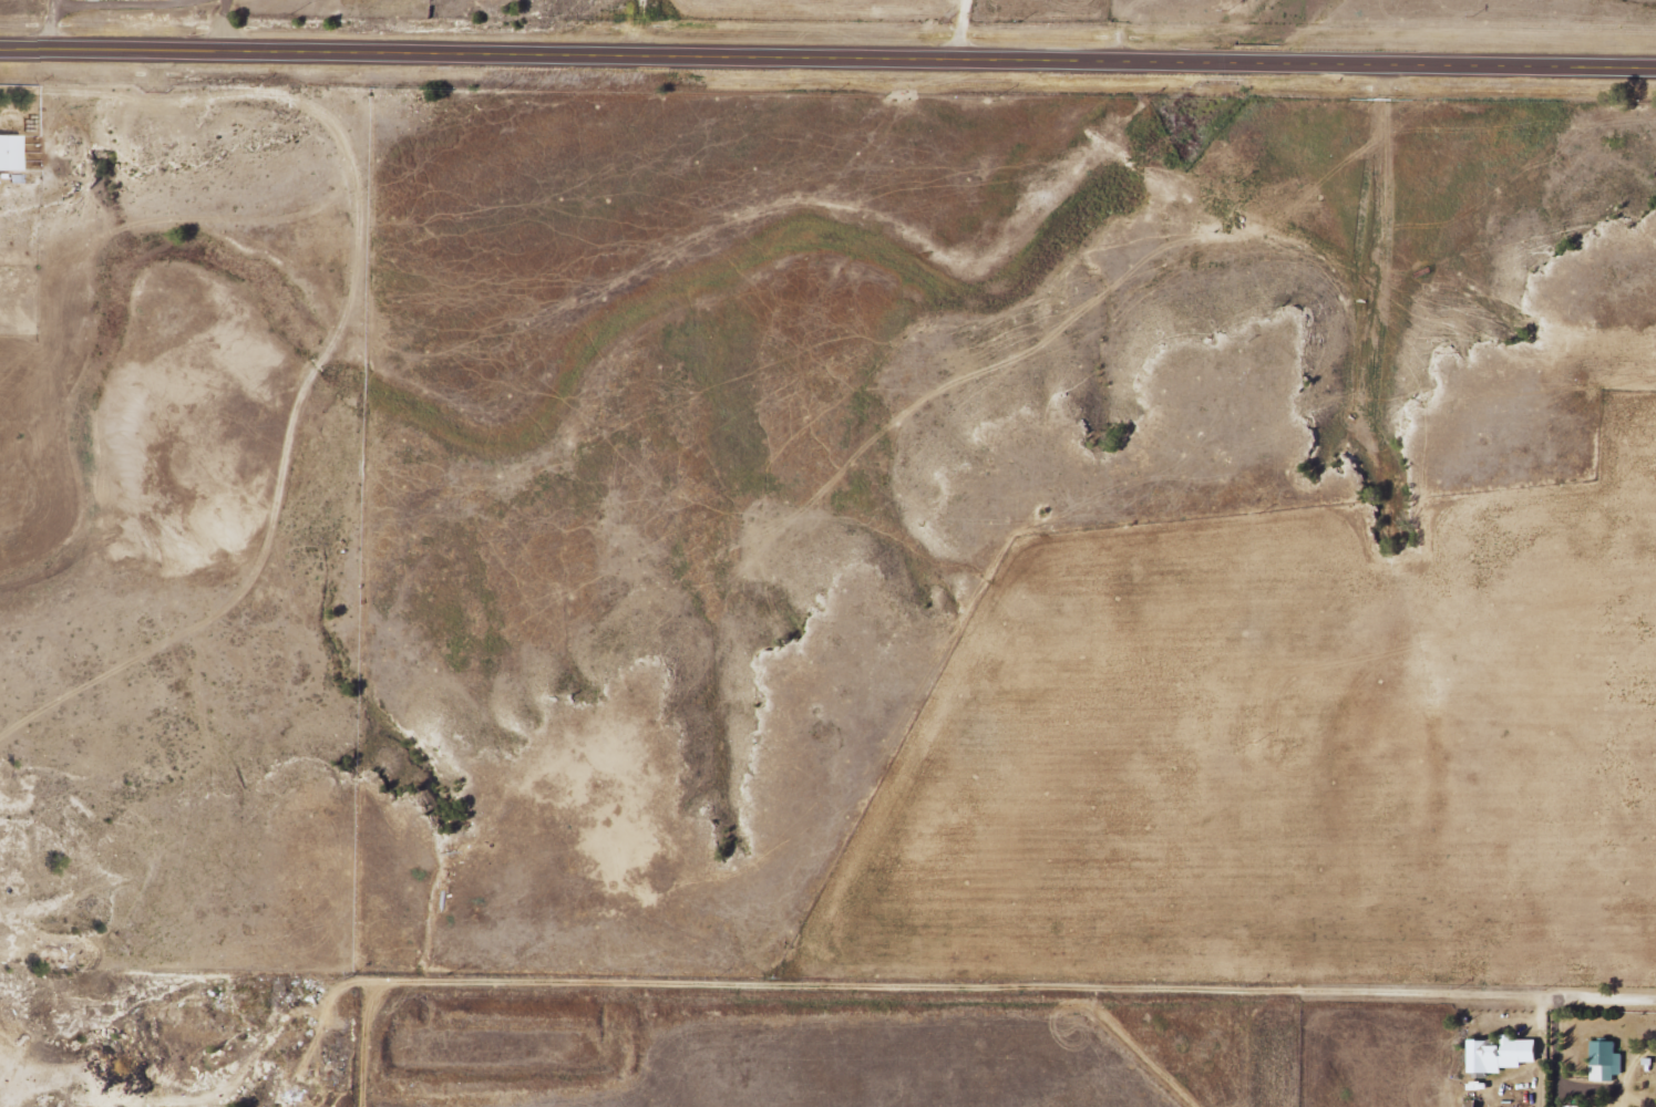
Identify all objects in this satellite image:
road: (343, 27)
road: (827, 60)
building: (11, 152)
road: (988, 1010)
building: (1503, 1055)
building: (1608, 1062)

